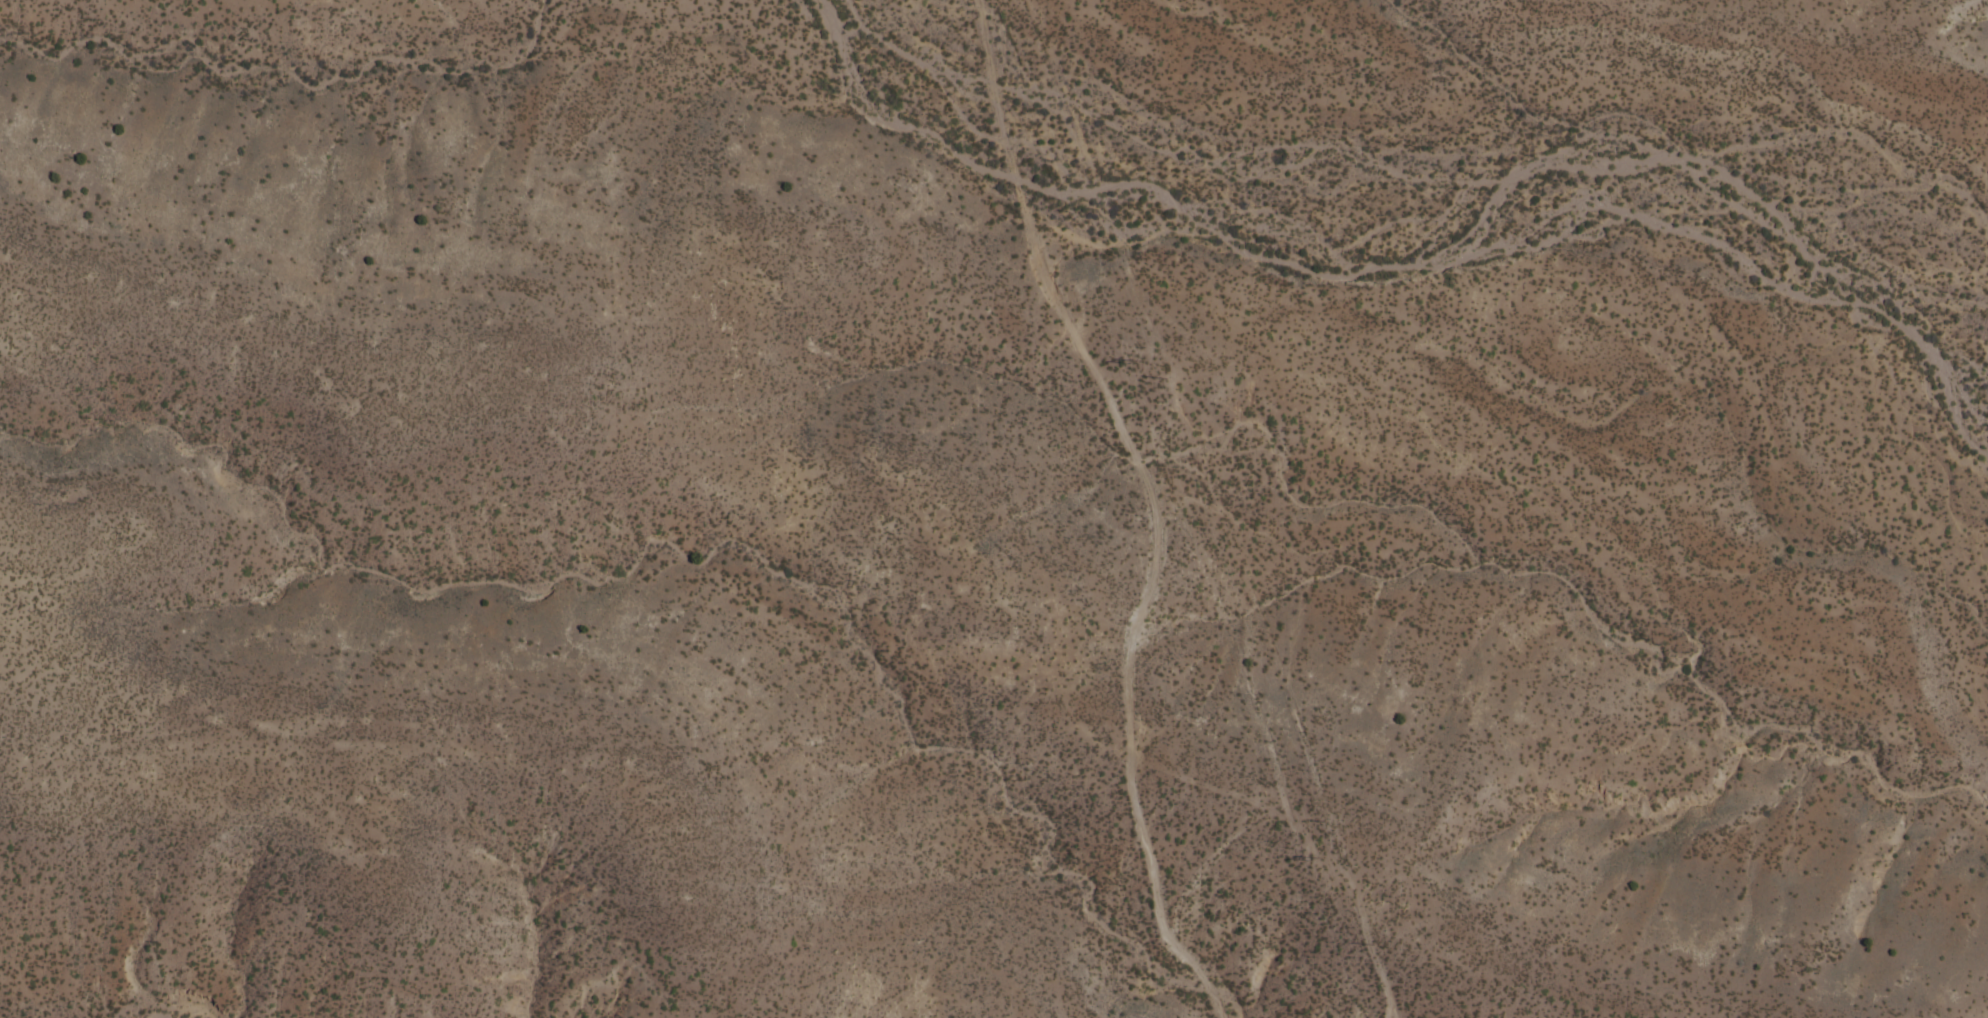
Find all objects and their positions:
road: (1152, 505)

